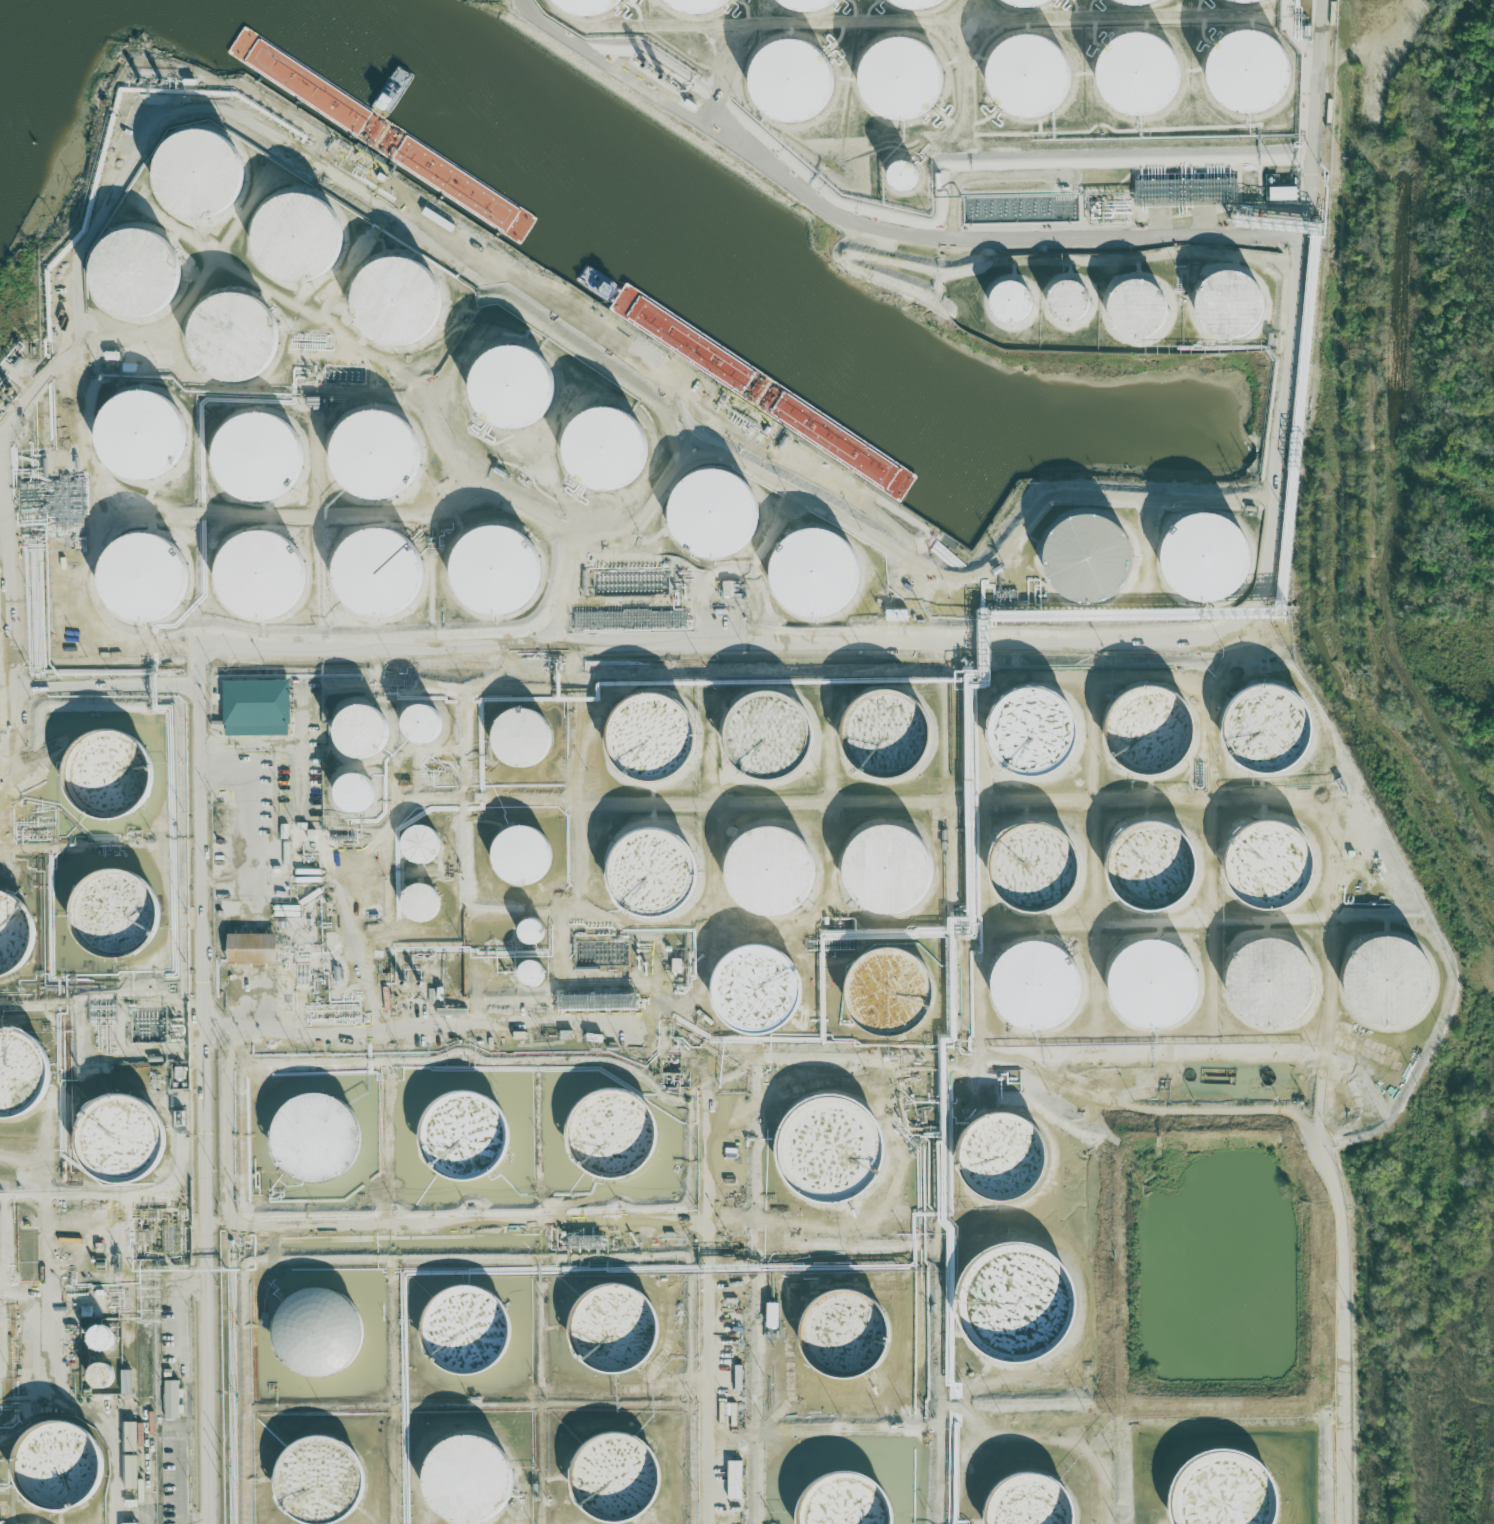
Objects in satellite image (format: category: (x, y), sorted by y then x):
building: (1242, 2)
storage tank: (1242, 2)
building: (1133, 3)
storage tank: (1133, 3)
building: (1027, 4)
storage tank: (1027, 4)
building: (805, 6)
storage tank: (805, 6)
building: (914, 6)
storage tank: (914, 6)
building: (694, 7)
storage tank: (694, 7)
building: (582, 8)
storage tank: (582, 8)
building: (1246, 76)
storage tank: (1246, 76)
building: (1136, 77)
storage tank: (1136, 77)
building: (1029, 78)
storage tank: (1029, 78)
building: (297, 81)
building: (899, 82)
storage tank: (899, 82)
building: (787, 86)
storage tank: (787, 86)
road: (266, 131)
building: (193, 178)
storage tank: (193, 178)
building: (902, 178)
storage tank: (902, 178)
building: (1284, 193)
road: (880, 228)
building: (296, 243)
storage tank: (296, 243)
building: (134, 276)
storage tank: (134, 276)
building: (1066, 303)
storage tank: (1066, 303)
building: (1010, 304)
storage tank: (1010, 304)
building: (395, 306)
storage tank: (395, 306)
building: (1225, 308)
storage tank: (1225, 308)
building: (1133, 311)
storage tank: (1133, 311)
building: (229, 342)
storage tank: (229, 342)
building: (112, 355)
building: (510, 389)
storage tank: (510, 389)
building: (141, 438)
storage tank: (141, 438)
road: (738, 447)
building: (605, 453)
storage tank: (605, 453)
building: (370, 458)
storage tank: (370, 458)
building: (255, 460)
storage tank: (255, 460)
building: (711, 515)
storage tank: (711, 515)
building: (1202, 561)
storage tank: (1202, 561)
building: (1087, 563)
storage tank: (1087, 563)
building: (494, 571)
storage tank: (494, 571)
building: (375, 576)
storage tank: (375, 576)
building: (257, 578)
storage tank: (257, 578)
building: (815, 578)
storage tank: (815, 578)
building: (140, 580)
storage tank: (140, 580)
building: (728, 589)
road: (1052, 641)
road: (44, 646)
building: (252, 713)
building: (419, 728)
storage tank: (419, 728)
building: (360, 734)
storage tank: (360, 734)
building: (1029, 734)
storage tank: (1029, 734)
building: (1148, 734)
storage tank: (1148, 734)
building: (1265, 734)
storage tank: (1265, 734)
building: (885, 737)
storage tank: (885, 737)
building: (651, 740)
storage tank: (651, 740)
building: (768, 740)
storage tank: (768, 740)
building: (519, 741)
storage tank: (519, 741)
building: (107, 778)
storage tank: (107, 778)
building: (352, 794)
storage tank: (352, 794)
building: (418, 847)
storage tank: (418, 847)
building: (520, 857)
storage tank: (520, 857)
building: (1149, 868)
storage tank: (1149, 868)
building: (1265, 868)
storage tank: (1265, 868)
building: (885, 872)
storage tank: (885, 872)
building: (1033, 872)
storage tank: (1033, 872)
building: (768, 875)
storage tank: (768, 875)
building: (651, 877)
storage tank: (651, 877)
building: (417, 905)
storage tank: (417, 905)
building: (113, 918)
storage tank: (113, 918)
building: (528, 935)
storage tank: (528, 935)
building: (13, 937)
storage tank: (13, 937)
building: (247, 953)
building: (530, 977)
storage tank: (530, 977)
building: (1386, 985)
storage tank: (1386, 985)
building: (1269, 986)
storage tank: (1269, 986)
road: (209, 987)
building: (1151, 987)
storage tank: (1151, 987)
building: (1034, 990)
storage tank: (1034, 990)
building: (754, 993)
storage tank: (754, 993)
building: (886, 994)
storage tank: (886, 994)
road: (983, 1057)
building: (19, 1077)
storage tank: (19, 1077)
building: (180, 1117)
building: (461, 1136)
storage tank: (461, 1136)
building: (609, 1136)
storage tank: (609, 1136)
building: (120, 1141)
storage tank: (120, 1141)
building: (314, 1142)
storage tank: (314, 1142)
building: (825, 1153)
building: (1000, 1160)
storage tank: (1000, 1160)
road: (463, 1227)
road: (715, 1282)
building: (1013, 1306)
storage tank: (1013, 1306)
road: (753, 1327)
building: (611, 1330)
storage tank: (611, 1330)
building: (464, 1335)
storage tank: (464, 1335)
building: (842, 1336)
storage tank: (842, 1336)
building: (315, 1337)
storage tank: (315, 1337)
building: (100, 1340)
storage tank: (100, 1340)
building: (101, 1376)
storage tank: (101, 1376)
building: (125, 1381)
road: (186, 1388)
building: (171, 1399)
building: (130, 1435)
building: (54, 1469)
storage tank: (54, 1469)
building: (130, 1471)
building: (735, 1479)
building: (612, 1482)
storage tank: (612, 1482)
building: (466, 1483)
storage tank: (466, 1483)
building: (317, 1484)
storage tank: (317, 1484)
building: (1219, 1493)
storage tank: (1219, 1493)
building: (845, 1504)
storage tank: (845, 1504)
building: (1028, 1504)
storage tank: (1028, 1504)
building: (130, 1523)

